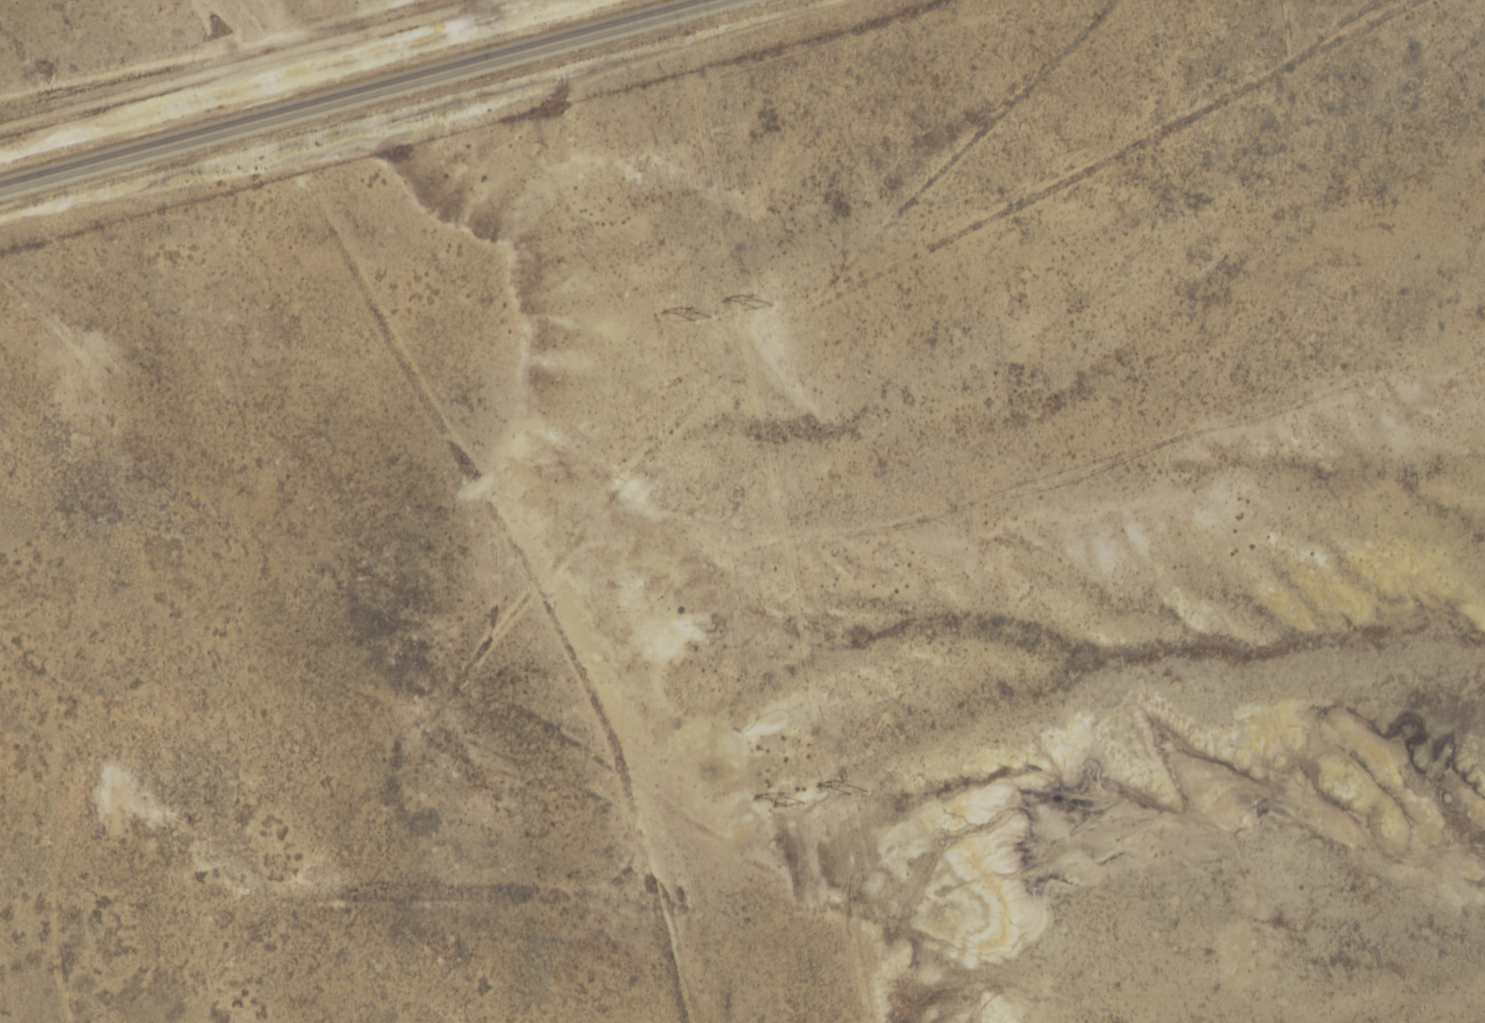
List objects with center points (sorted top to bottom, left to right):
road: (269, 67)
road: (365, 99)
power tower: (762, 309)
power tower: (698, 318)
power tower: (854, 790)
power tower: (791, 804)

